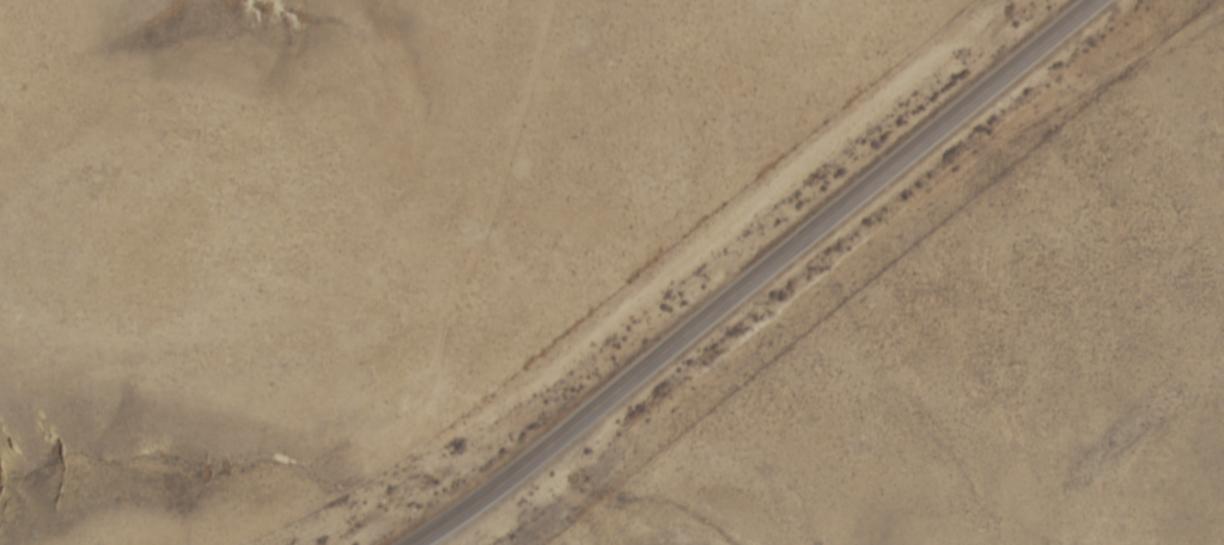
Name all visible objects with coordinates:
road: (928, 246)
road: (771, 275)

